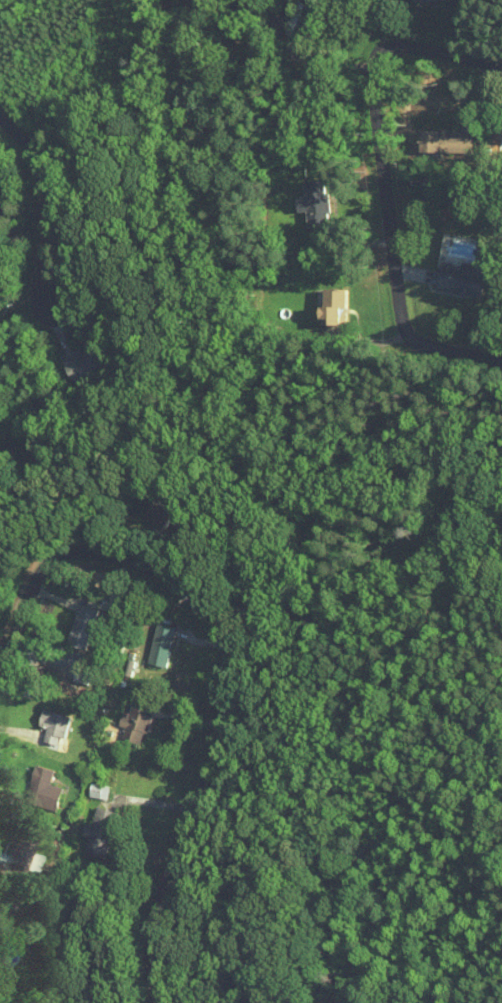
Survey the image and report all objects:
building: (444, 1)
road: (382, 177)
building: (314, 204)
road: (46, 211)
building: (462, 277)
building: (332, 307)
building: (81, 364)
building: (160, 515)
building: (80, 628)
building: (160, 646)
road: (230, 658)
building: (134, 724)
building: (53, 727)
building: (42, 790)
building: (98, 791)
building: (100, 830)

